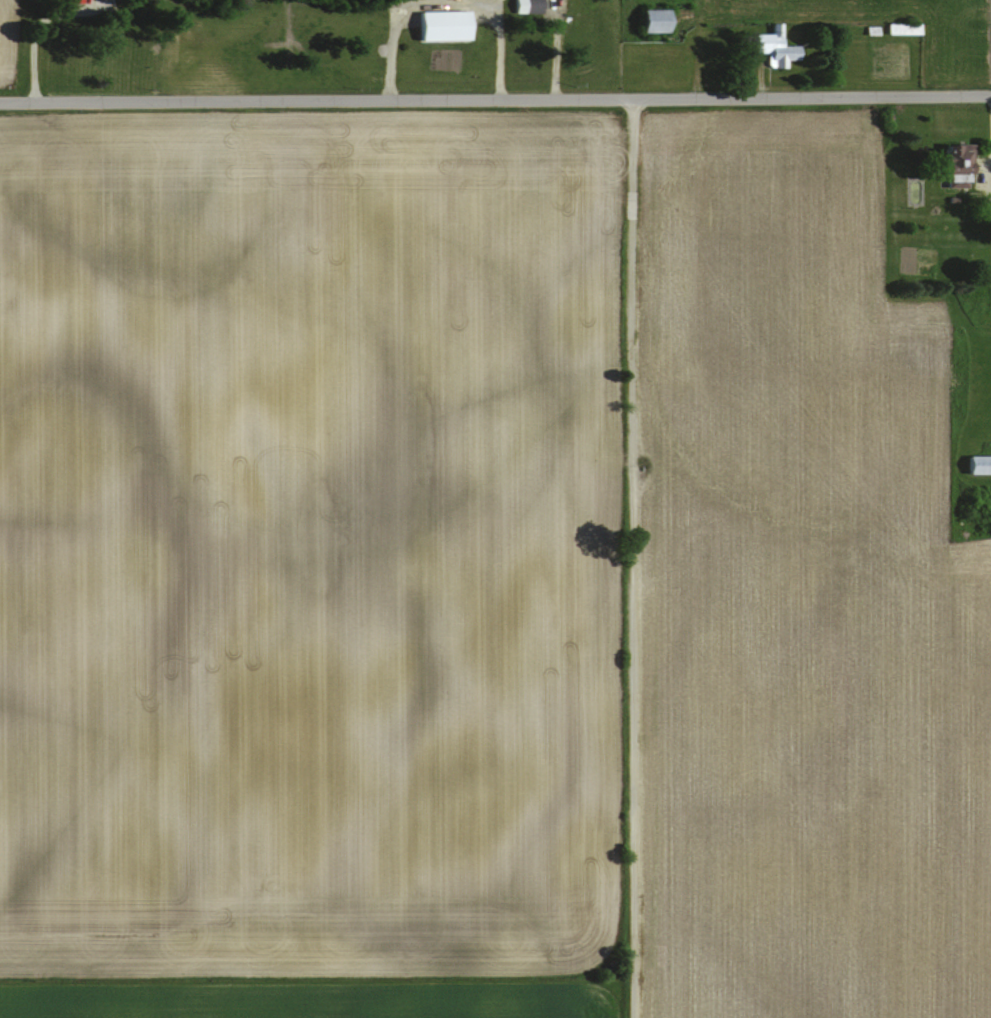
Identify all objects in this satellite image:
building: (68, 0)
building: (518, 5)
building: (646, 18)
building: (438, 24)
building: (899, 26)
road: (30, 31)
building: (770, 45)
road: (495, 100)
road: (987, 145)
building: (975, 462)
road: (630, 559)

